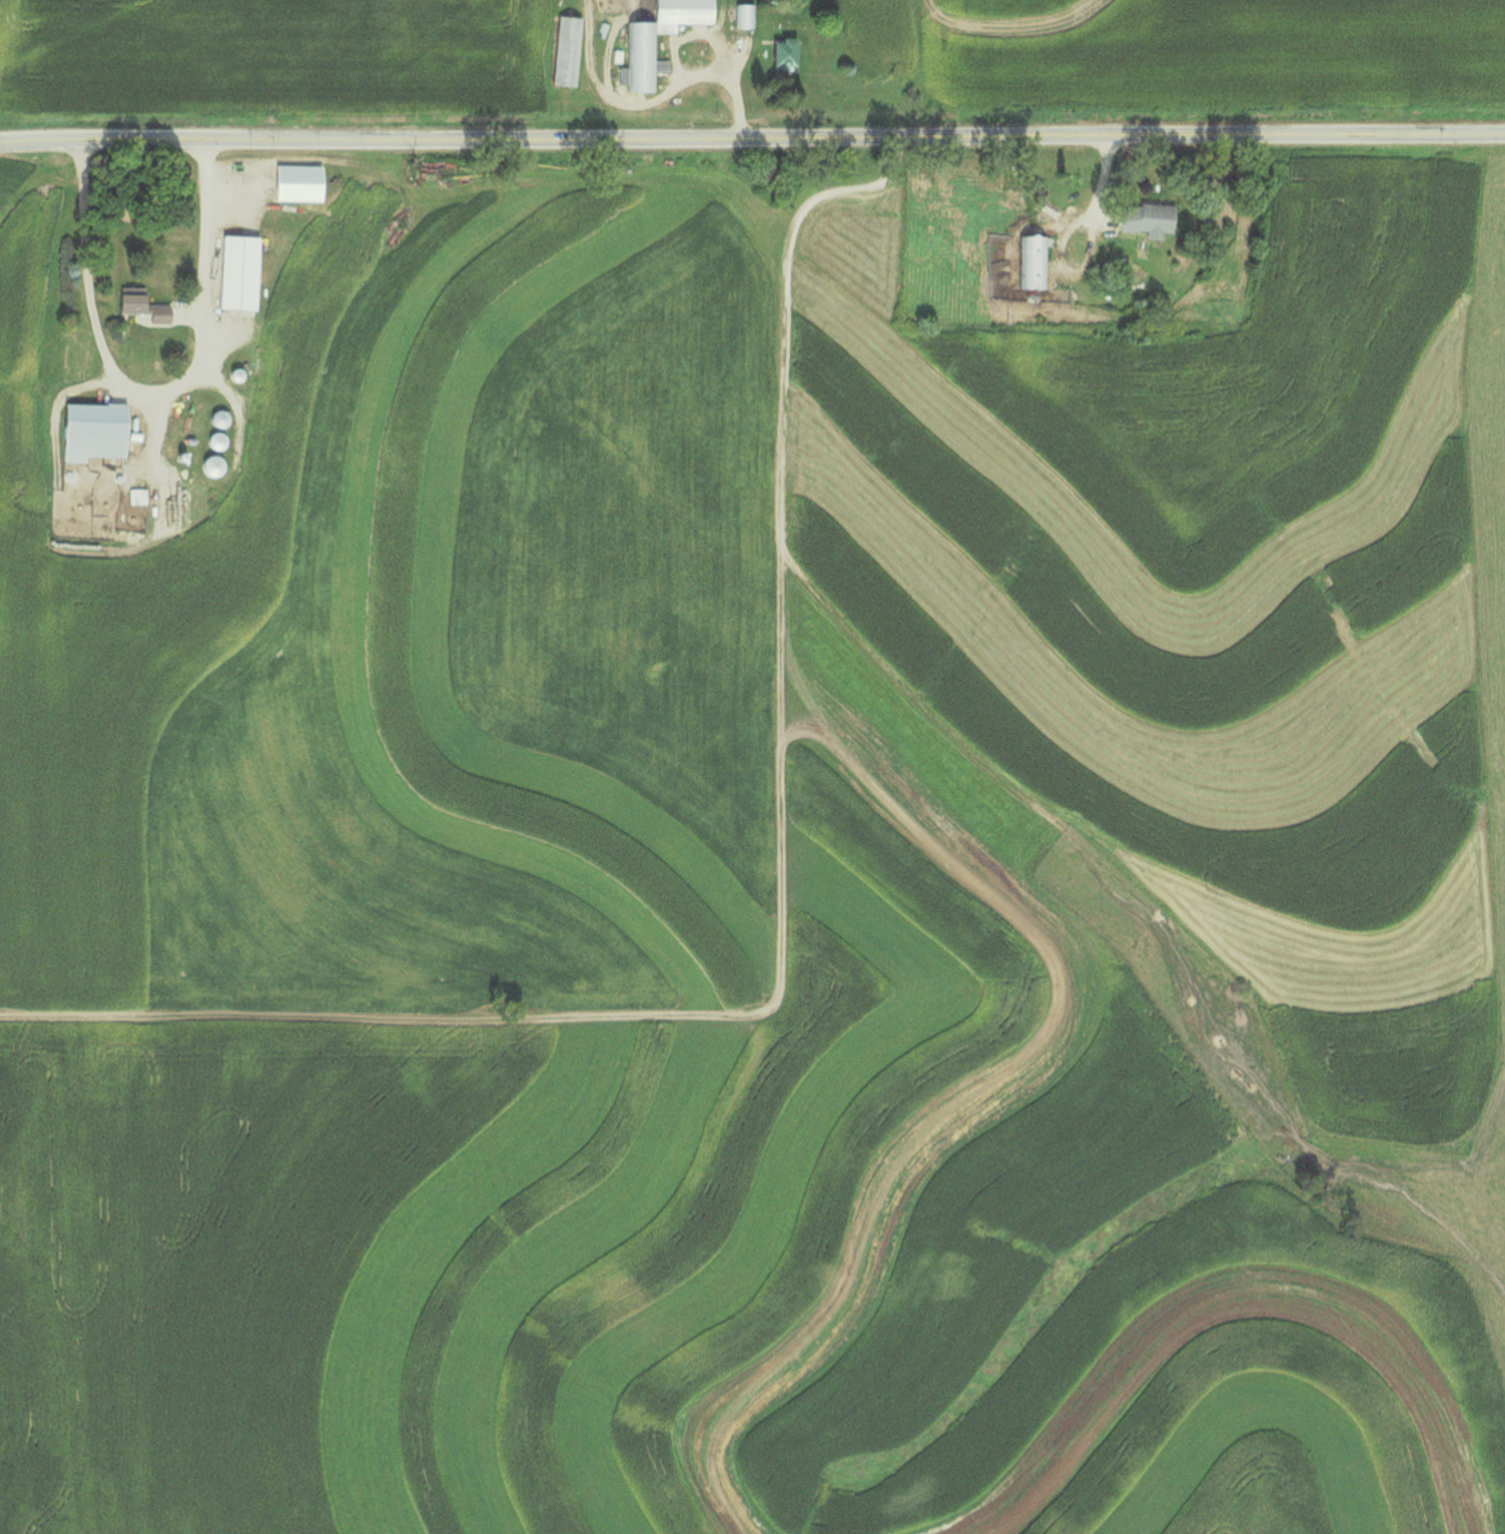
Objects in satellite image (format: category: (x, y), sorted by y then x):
building: (741, 14)
building: (637, 45)
building: (562, 50)
building: (777, 54)
road: (752, 136)
building: (293, 183)
building: (1141, 218)
building: (1028, 260)
building: (235, 272)
building: (995, 280)
building: (138, 305)
road: (148, 387)
building: (90, 430)
building: (213, 440)
building: (207, 465)

